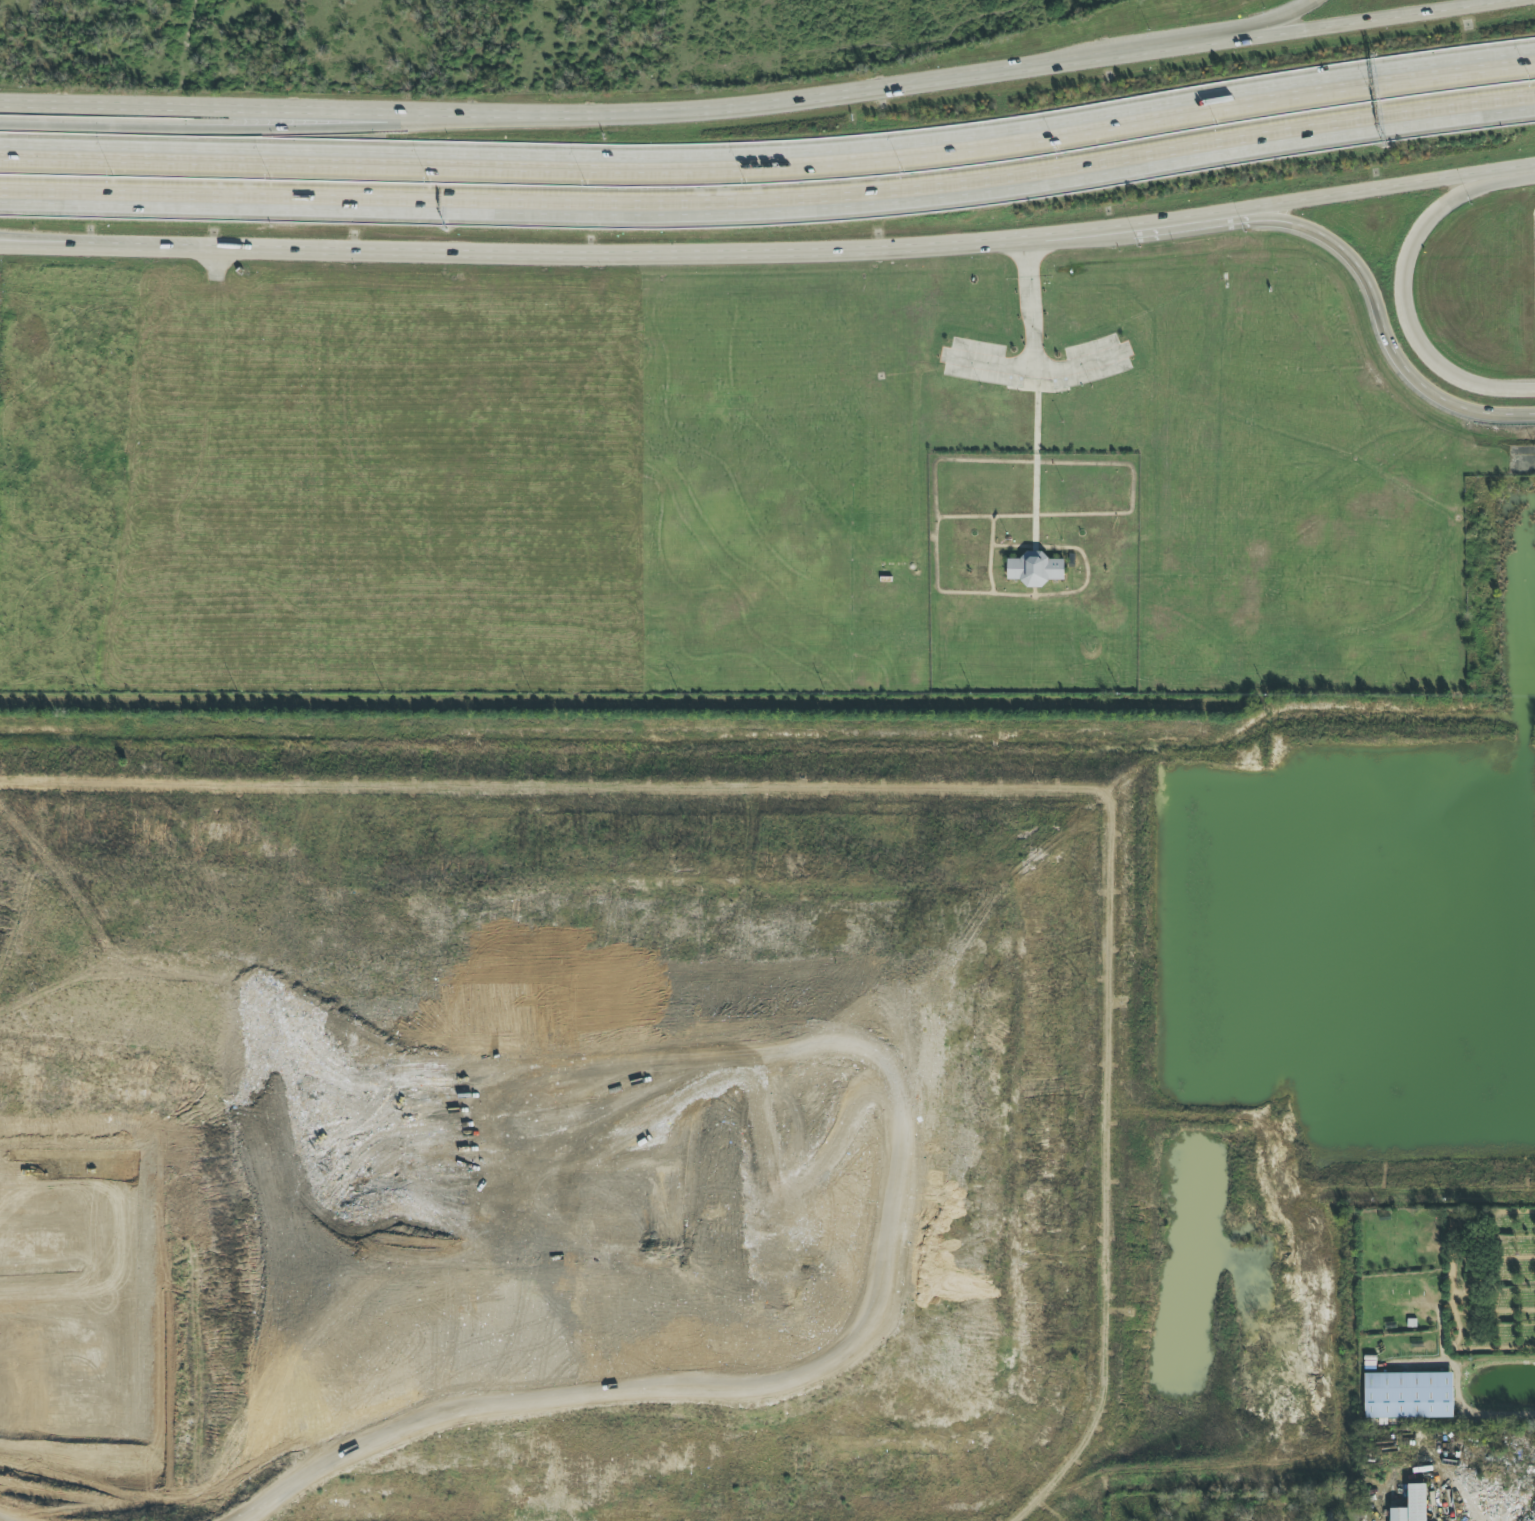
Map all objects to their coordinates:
road: (1288, 16)
road: (1386, 18)
road: (1245, 29)
road: (1246, 36)
road: (1158, 48)
road: (543, 114)
road: (301, 128)
road: (771, 171)
road: (1516, 175)
road: (1364, 196)
road: (771, 197)
road: (1171, 222)
road: (48, 242)
road: (48, 248)
road: (605, 258)
road: (1030, 306)
road: (1408, 306)
road: (1378, 322)
road: (1036, 369)
building: (1035, 569)
landfill: (602, 1158)
building: (1408, 1395)
road: (1501, 1414)
building: (1412, 1505)

